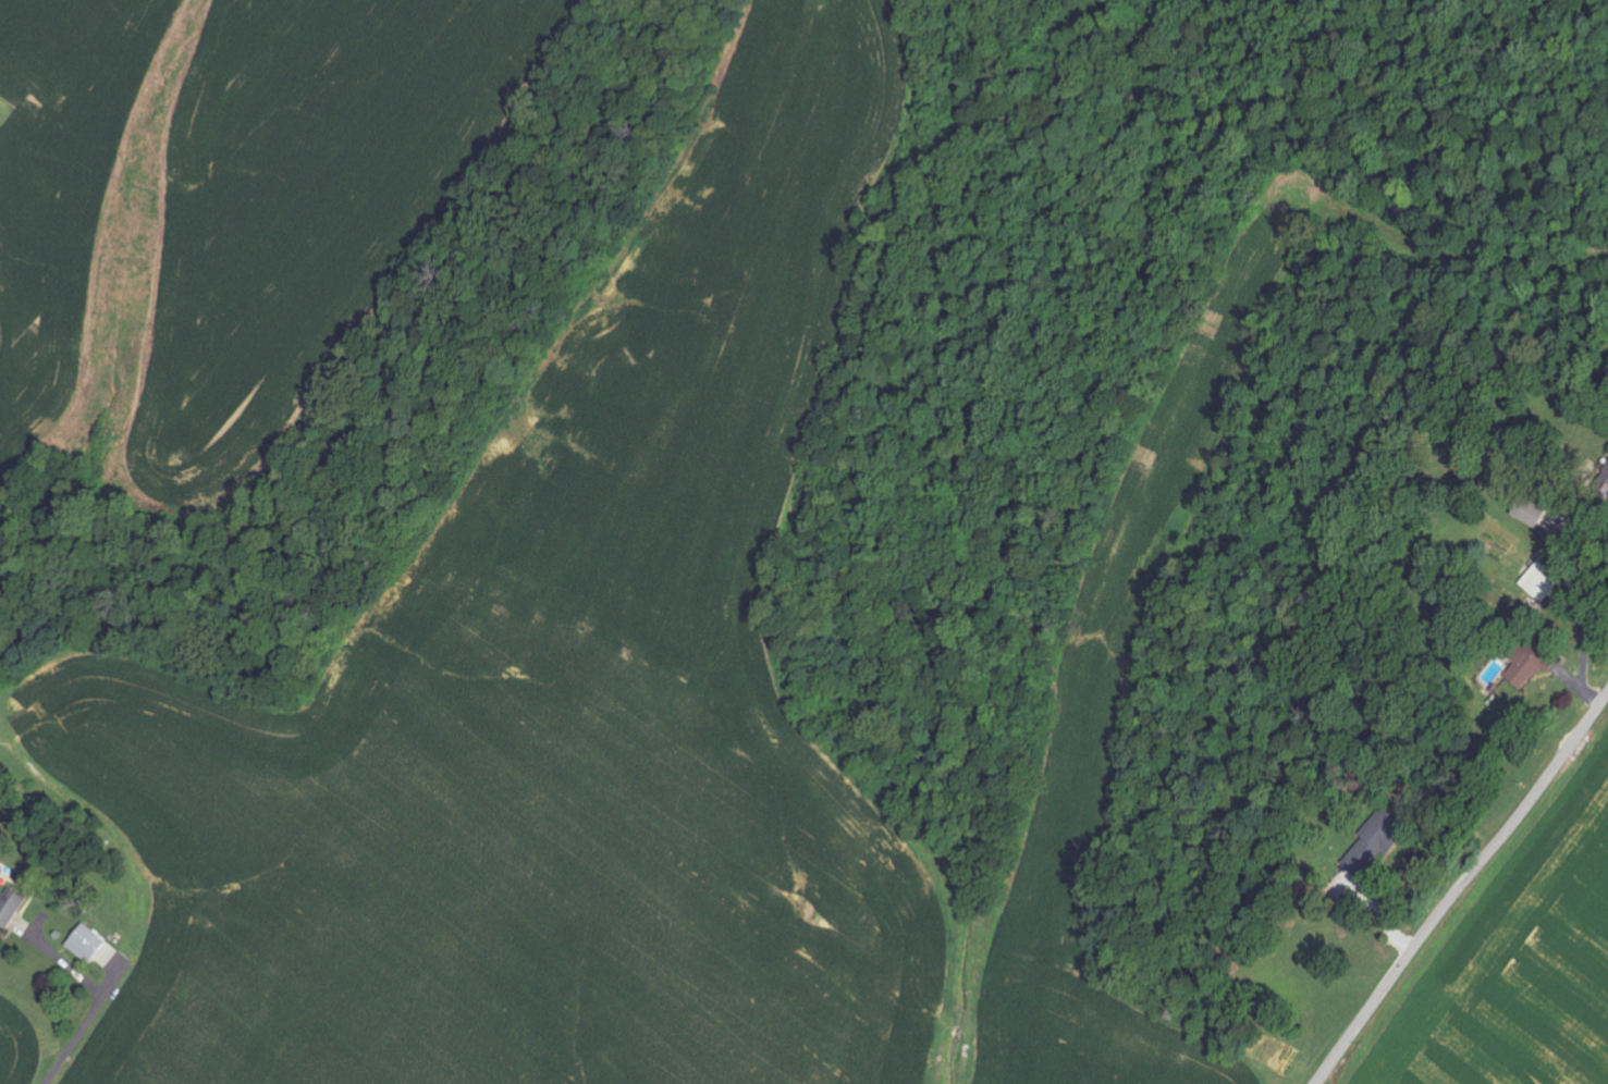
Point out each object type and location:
building: (0, 111)
building: (1531, 514)
building: (1529, 662)
building: (1374, 842)
road: (1460, 886)
building: (10, 907)
building: (86, 943)
road: (98, 1002)

